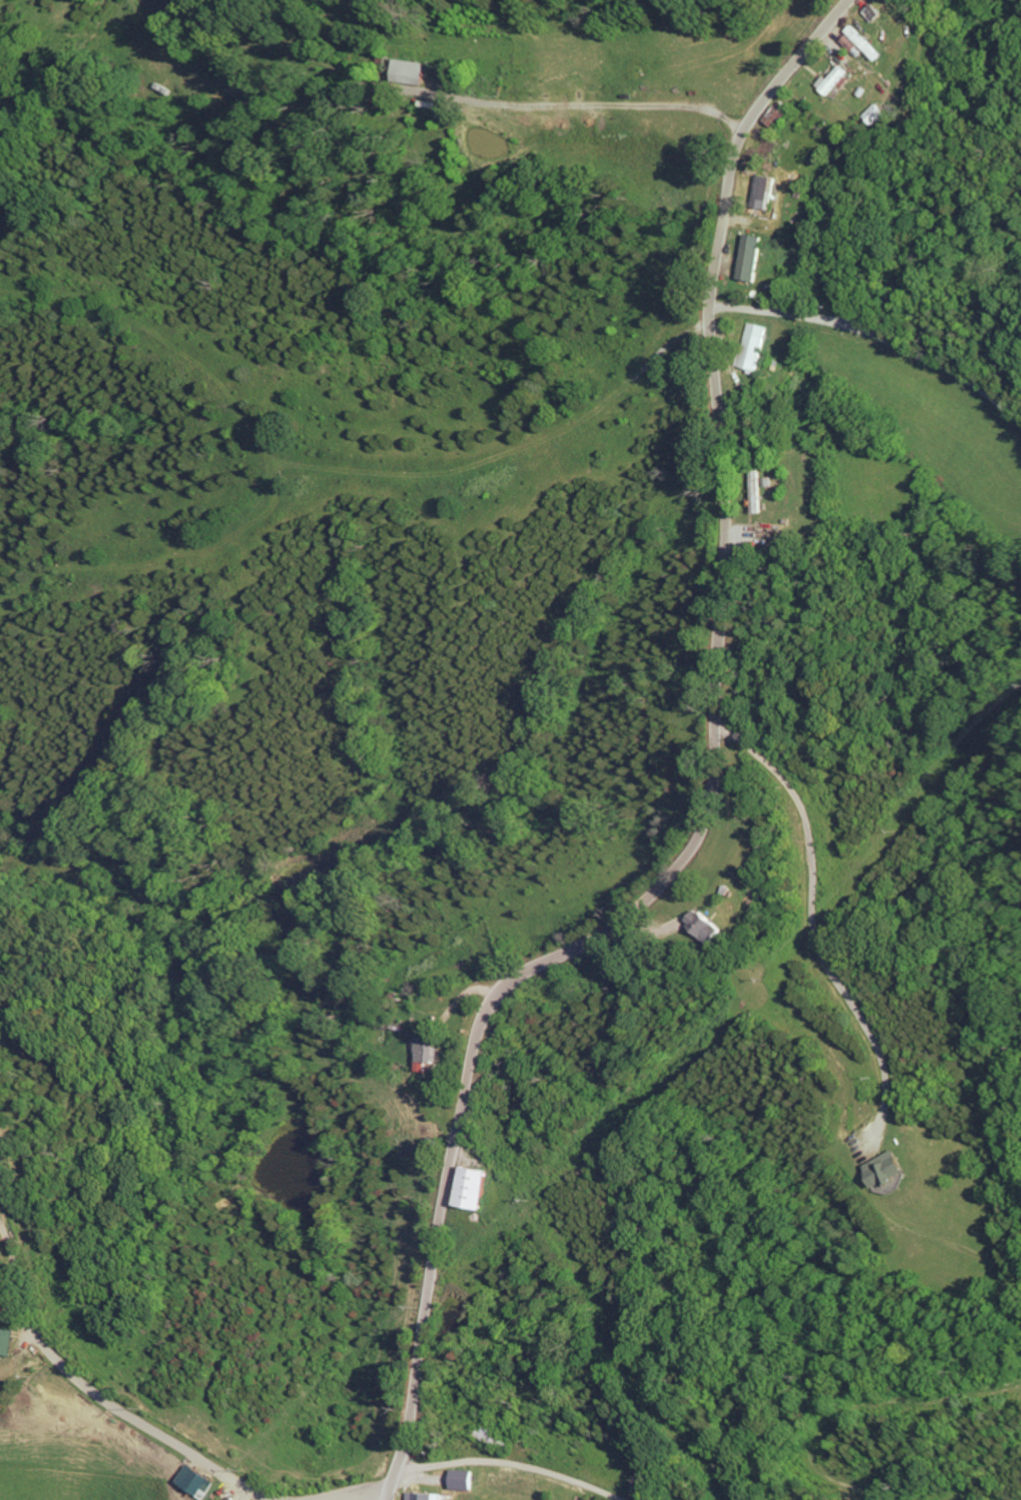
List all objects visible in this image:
building: (874, 43)
building: (415, 73)
building: (843, 82)
road: (583, 107)
building: (774, 189)
building: (762, 255)
road: (876, 335)
road: (713, 787)
road: (816, 916)
building: (713, 926)
building: (428, 1047)
building: (890, 1169)
building: (478, 1188)
building: (10, 1342)
road: (123, 1414)
road: (510, 1463)
building: (465, 1480)
building: (197, 1482)
road: (363, 1495)
building: (429, 1496)
building: (236, 1498)

